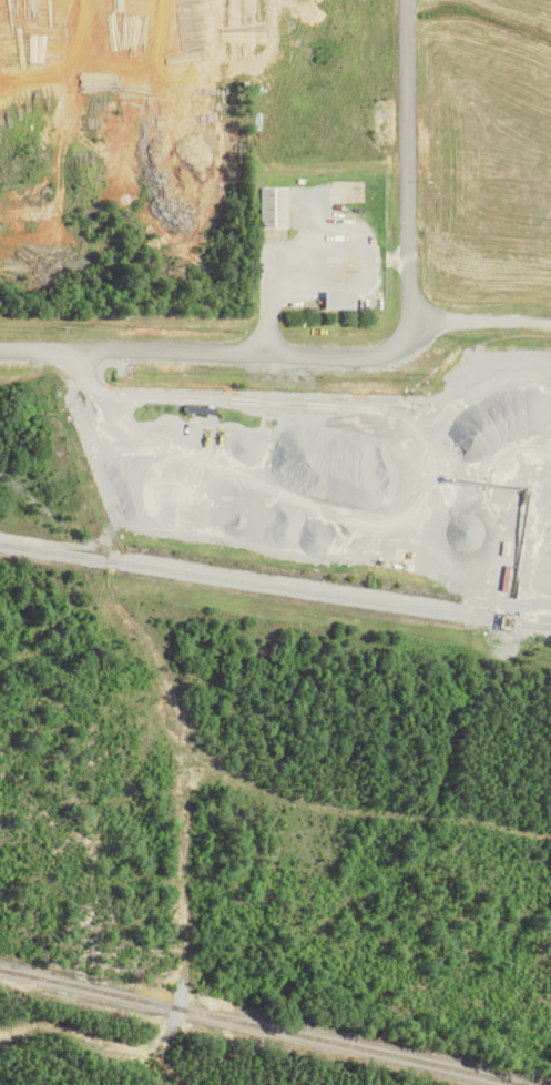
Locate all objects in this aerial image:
building: (279, 206)
building: (345, 298)
road: (376, 355)
railway: (275, 586)
railway: (535, 623)
railway: (258, 1025)

